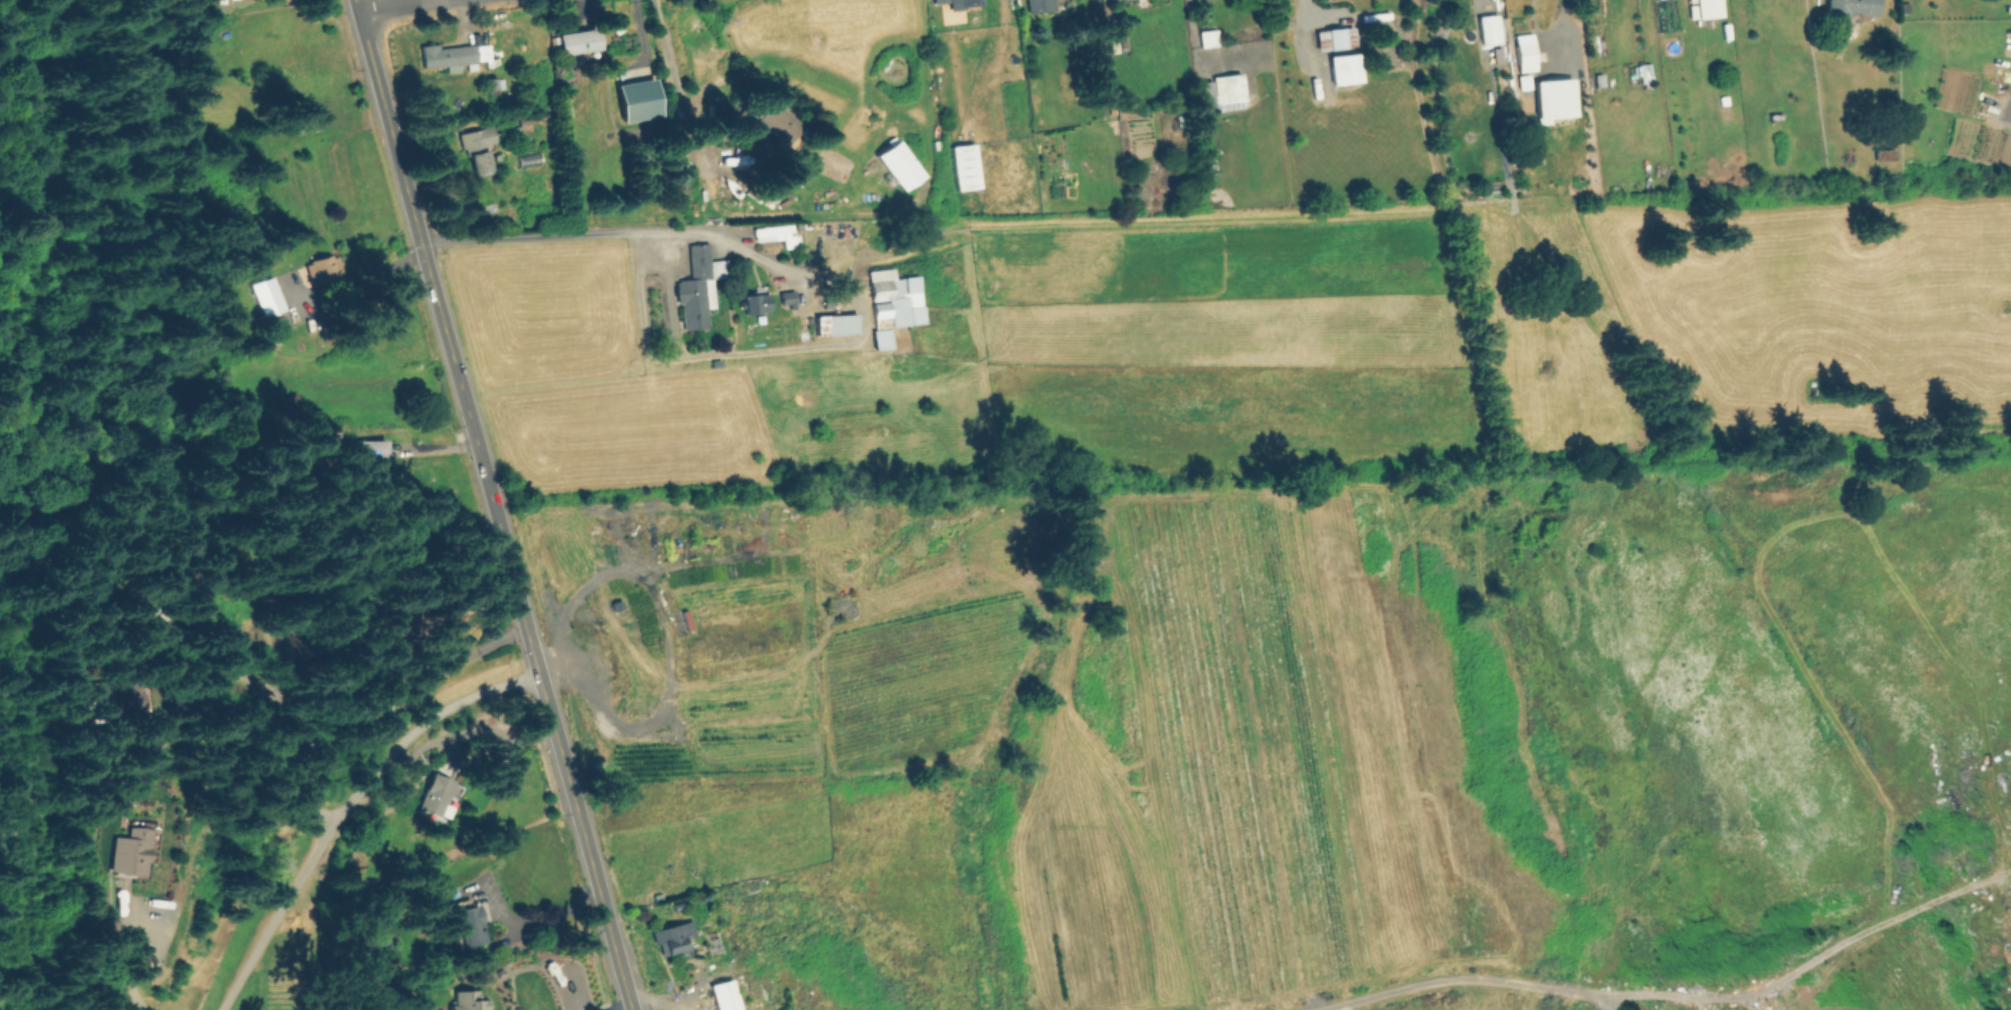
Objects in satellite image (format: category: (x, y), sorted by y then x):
building: (1113, 0)
building: (946, 1)
road: (1484, 3)
building: (1039, 5)
road: (391, 6)
building: (1709, 7)
building: (1852, 8)
road: (1369, 14)
building: (615, 23)
building: (1490, 30)
building: (1210, 39)
building: (1336, 39)
building: (578, 43)
road: (1190, 43)
building: (451, 56)
building: (1526, 58)
building: (1346, 69)
building: (1677, 70)
building: (1646, 73)
building: (493, 86)
building: (1230, 87)
road: (678, 97)
building: (1727, 112)
building: (1776, 117)
building: (778, 122)
building: (527, 127)
road: (429, 129)
building: (478, 149)
building: (1886, 155)
building: (900, 166)
building: (966, 167)
road: (597, 233)
building: (774, 235)
building: (324, 269)
road: (354, 277)
building: (700, 288)
building: (268, 297)
building: (753, 305)
building: (890, 305)
building: (833, 326)
building: (271, 339)
building: (717, 364)
building: (289, 403)
road: (429, 450)
building: (367, 455)
road: (484, 505)
building: (127, 607)
building: (380, 623)
building: (295, 648)
road: (448, 664)
building: (119, 696)
building: (383, 699)
road: (280, 709)
building: (437, 798)
road: (344, 810)
building: (135, 851)
building: (736, 871)
building: (741, 888)
building: (467, 923)
road: (537, 929)
building: (675, 939)
building: (714, 945)
road: (134, 958)
building: (725, 996)
road: (1670, 998)
building: (468, 1001)
road: (619, 1007)
building: (1770, 1007)

